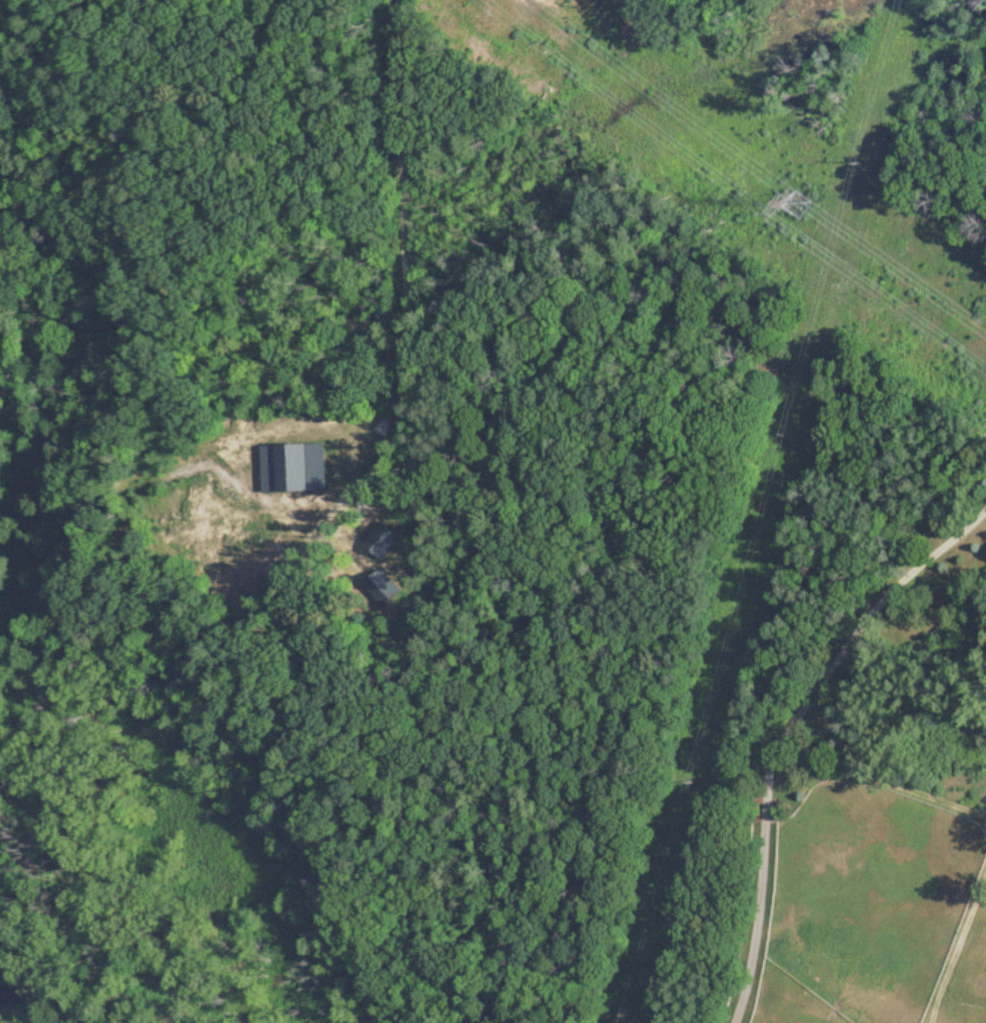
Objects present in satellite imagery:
power tower: (804, 200)
road: (404, 260)
road: (786, 727)

